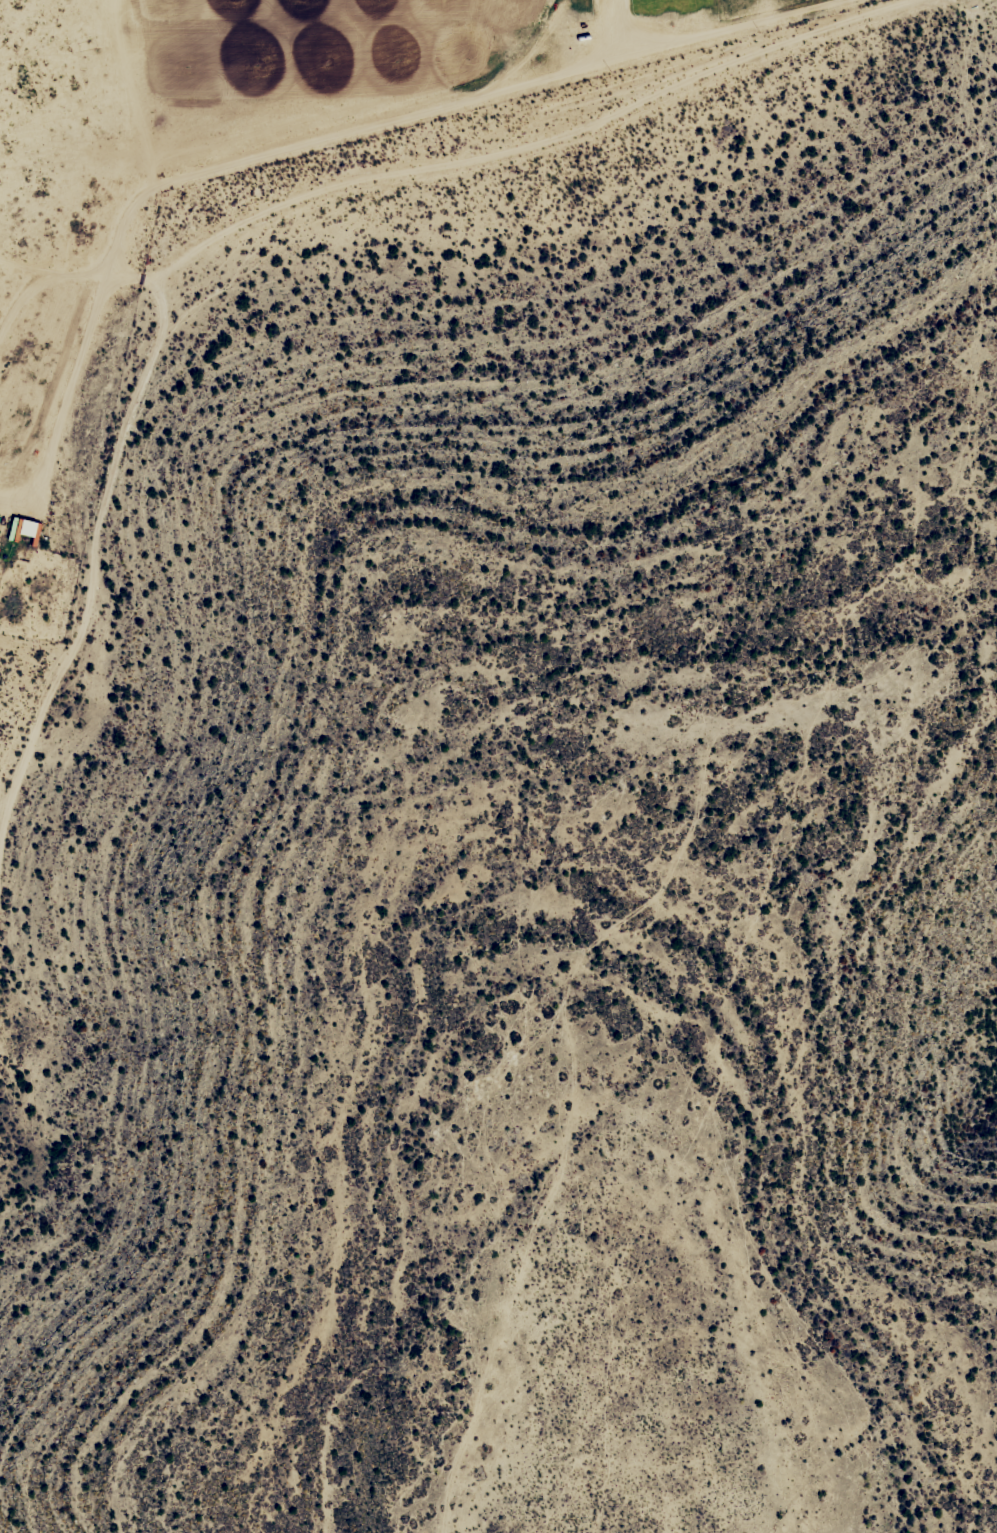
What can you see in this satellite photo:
road: (222, 243)

